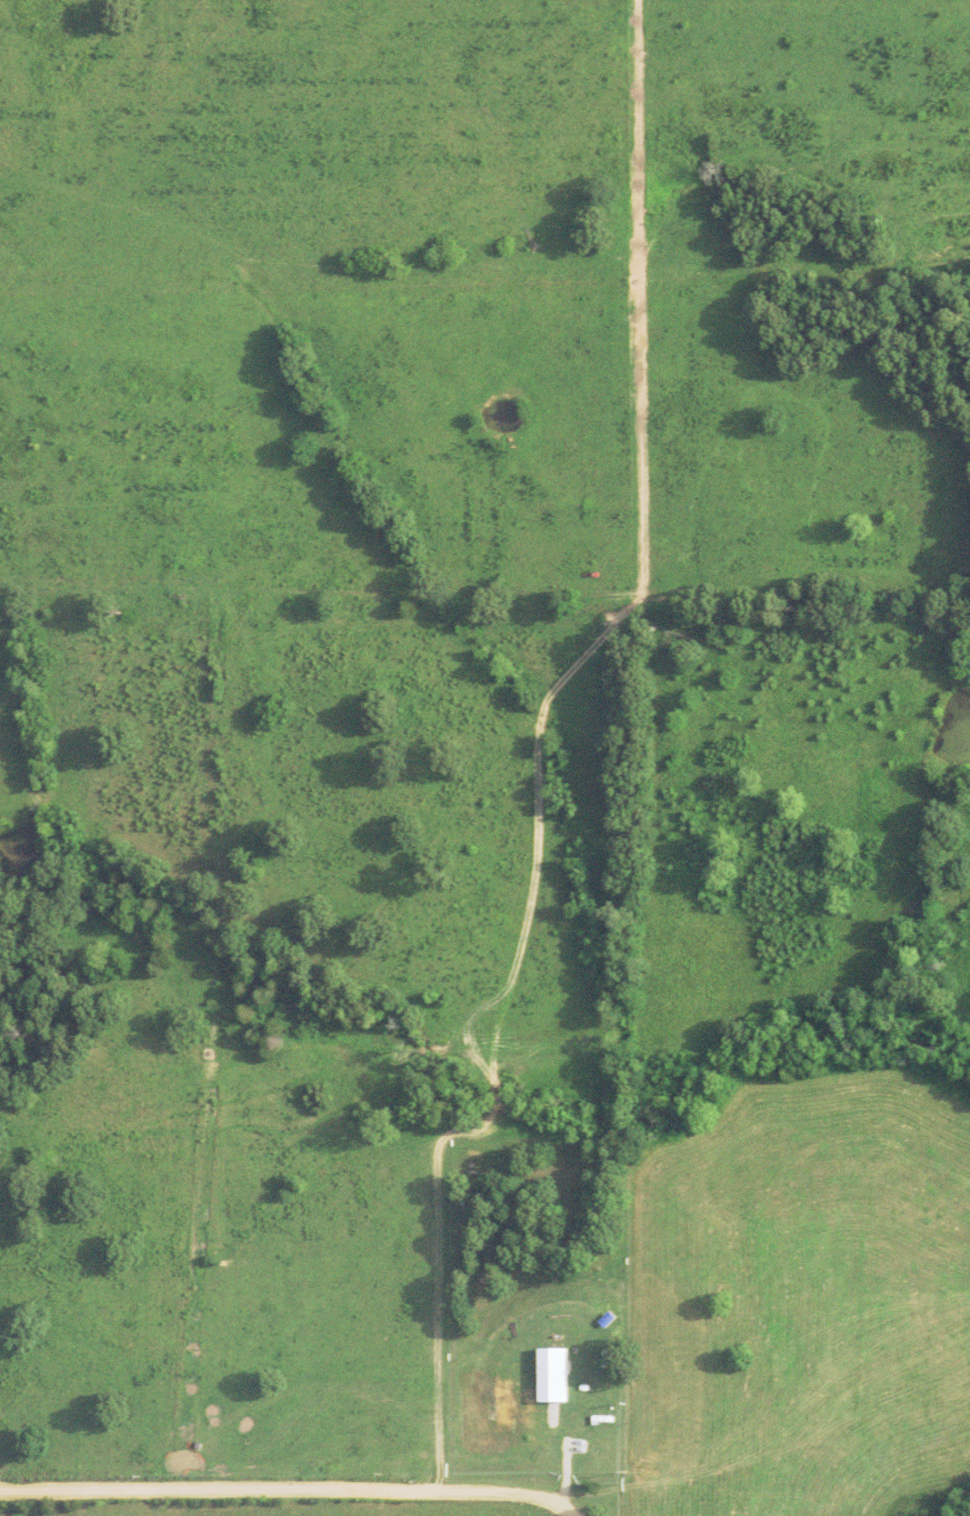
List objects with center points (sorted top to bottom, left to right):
building: (554, 1378)
road: (288, 1487)

